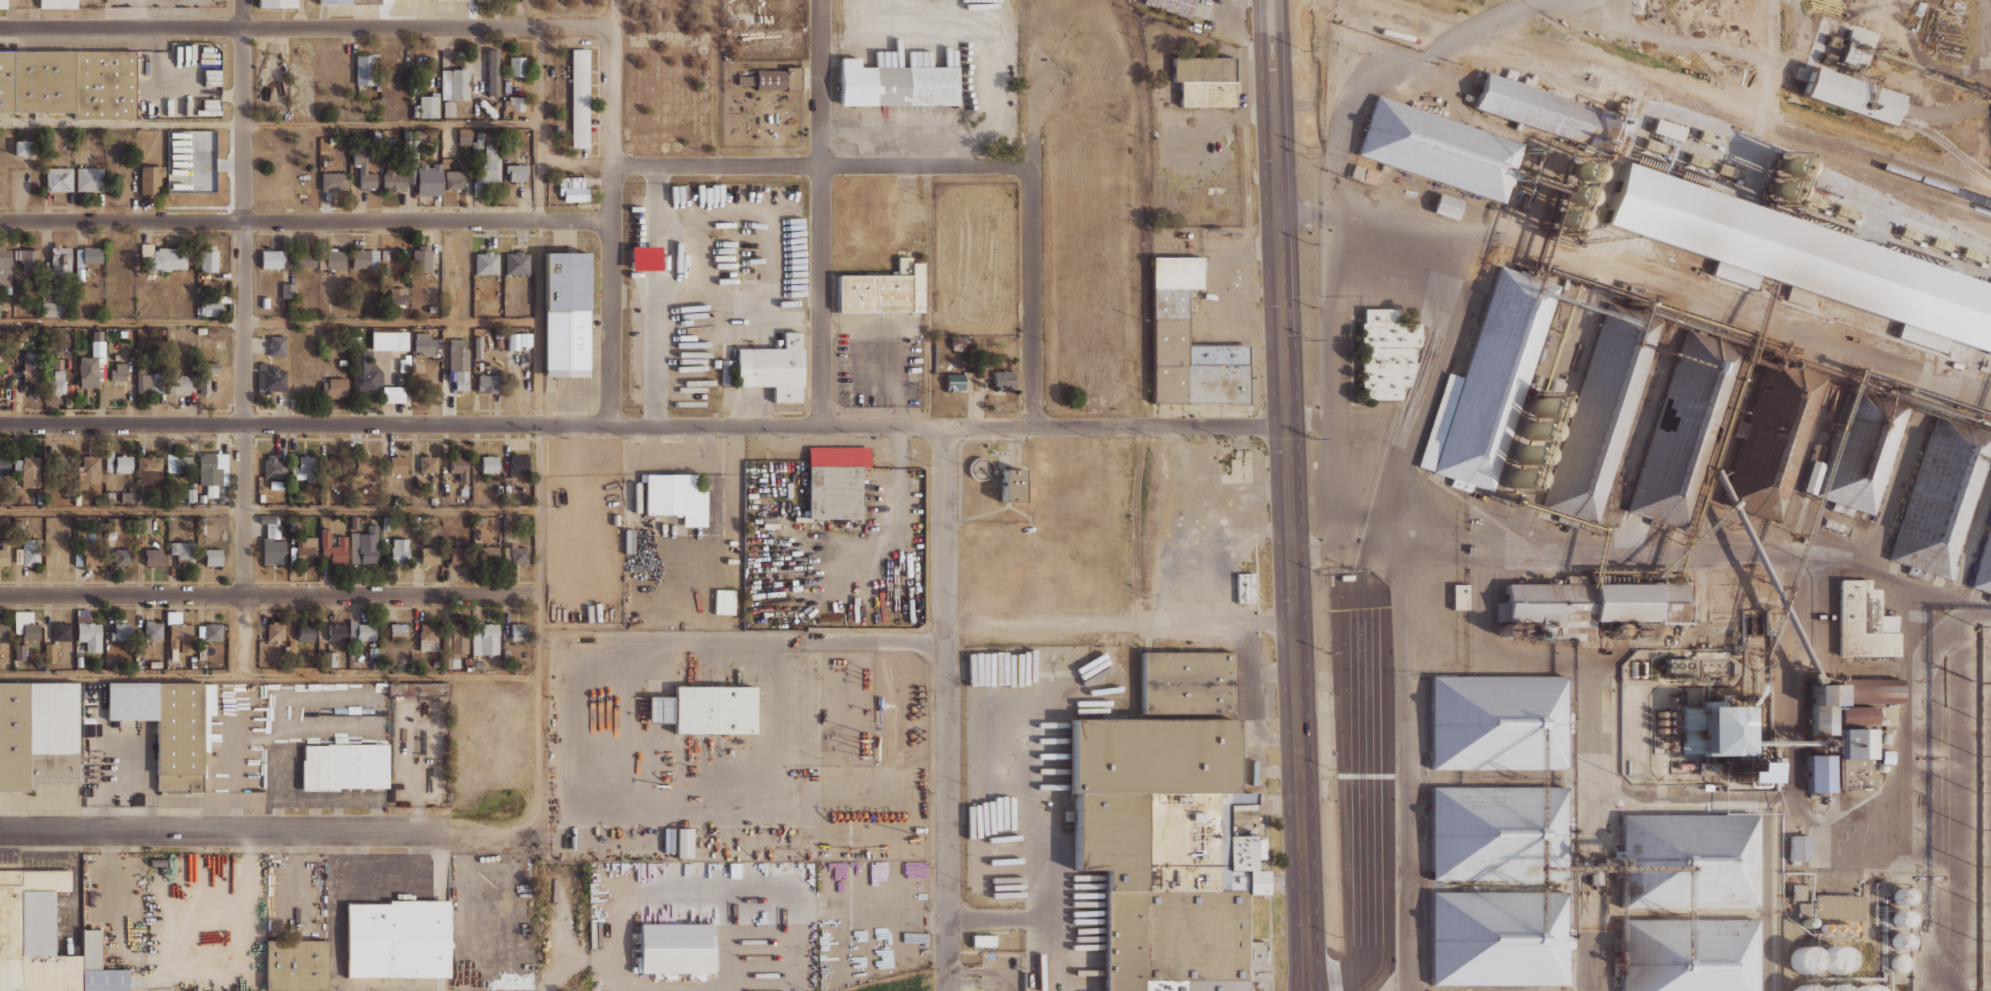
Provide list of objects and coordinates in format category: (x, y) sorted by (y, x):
building: (350, 2)
building: (277, 3)
building: (3, 4)
building: (58, 4)
building: (1173, 6)
road: (307, 25)
building: (1398, 31)
railway: (1602, 62)
building: (516, 66)
building: (366, 69)
railway: (1758, 71)
building: (774, 78)
building: (494, 79)
building: (1200, 81)
road: (1367, 81)
building: (68, 82)
building: (455, 84)
building: (898, 84)
building: (506, 86)
building: (751, 94)
building: (1849, 95)
building: (580, 97)
railway: (1685, 100)
building: (517, 103)
building: (427, 106)
building: (474, 106)
building: (1539, 108)
railway: (1754, 108)
building: (449, 109)
road: (270, 123)
building: (1664, 129)
building: (406, 134)
building: (418, 134)
building: (464, 136)
building: (375, 137)
railway: (1944, 140)
building: (478, 141)
building: (415, 143)
building: (406, 144)
building: (22, 147)
building: (1442, 150)
railway: (1882, 157)
building: (412, 158)
railway: (1849, 163)
road: (822, 164)
building: (487, 165)
building: (364, 170)
building: (516, 173)
building: (1363, 174)
building: (409, 175)
building: (150, 177)
building: (428, 178)
building: (59, 179)
building: (90, 179)
building: (393, 180)
building: (455, 180)
building: (334, 182)
railway: (1881, 184)
building: (572, 189)
railway: (1926, 199)
building: (1442, 205)
road: (613, 212)
road: (822, 212)
road: (306, 220)
railway: (1964, 220)
road: (1033, 222)
building: (147, 249)
building: (208, 258)
building: (420, 258)
building: (29, 259)
building: (61, 259)
building: (365, 259)
building: (86, 260)
building: (166, 260)
building: (307, 260)
building: (333, 260)
building: (272, 261)
building: (1796, 262)
building: (484, 263)
building: (517, 263)
building: (5, 267)
building: (287, 290)
building: (884, 290)
road: (928, 294)
road: (657, 295)
building: (398, 296)
building: (264, 301)
building: (48, 302)
building: (144, 305)
building: (432, 308)
building: (209, 309)
building: (405, 311)
building: (567, 314)
building: (1166, 317)
road: (269, 321)
building: (200, 330)
building: (497, 332)
road: (243, 338)
building: (525, 339)
building: (389, 340)
building: (512, 340)
building: (960, 342)
building: (97, 343)
building: (423, 343)
building: (498, 343)
building: (277, 347)
building: (478, 347)
building: (1383, 353)
railway: (1145, 354)
parking lot: (879, 358)
building: (343, 361)
building: (459, 362)
building: (57, 364)
building: (36, 366)
building: (118, 368)
building: (774, 368)
building: (88, 372)
building: (726, 372)
building: (366, 373)
building: (207, 375)
building: (1494, 375)
road: (1434, 376)
road: (1330, 377)
building: (272, 378)
building: (1003, 380)
building: (489, 382)
building: (955, 382)
building: (57, 384)
building: (144, 384)
building: (180, 384)
building: (337, 387)
building: (393, 394)
building: (1599, 412)
road: (1353, 419)
road: (642, 425)
building: (1680, 427)
building: (1778, 440)
building: (1857, 454)
building: (340, 458)
building: (109, 460)
building: (180, 462)
building: (149, 463)
building: (365, 463)
building: (398, 463)
building: (123, 464)
building: (427, 464)
road: (538, 464)
building: (16, 465)
building: (488, 465)
building: (516, 465)
building: (1, 467)
building: (460, 467)
building: (274, 468)
building: (305, 468)
building: (31, 471)
building: (212, 471)
building: (89, 473)
building: (835, 481)
building: (1014, 485)
building: (520, 489)
building: (169, 494)
building: (195, 494)
road: (1289, 495)
building: (127, 496)
building: (109, 497)
building: (283, 497)
building: (676, 497)
building: (48, 498)
building: (19, 499)
building: (222, 499)
building: (433, 500)
building: (1940, 500)
building: (396, 501)
building: (468, 502)
road: (269, 509)
building: (267, 519)
building: (478, 521)
building: (354, 522)
building: (416, 522)
building: (386, 524)
building: (144, 525)
building: (202, 527)
building: (369, 546)
building: (334, 548)
building: (354, 548)
building: (1471, 548)
building: (273, 549)
building: (399, 549)
building: (306, 550)
building: (4, 551)
building: (183, 551)
building: (31, 553)
building: (489, 553)
building: (86, 554)
building: (518, 554)
building: (431, 556)
building: (458, 556)
building: (121, 557)
building: (212, 557)
building: (152, 558)
building: (1984, 566)
building: (1344, 576)
road: (269, 593)
building: (1457, 596)
building: (1586, 605)
building: (1863, 621)
road: (1120, 623)
building: (3, 631)
building: (31, 631)
building: (62, 631)
building: (154, 631)
building: (180, 631)
building: (275, 631)
building: (213, 632)
building: (305, 632)
building: (336, 632)
building: (367, 632)
building: (398, 632)
building: (428, 632)
building: (519, 632)
building: (121, 633)
building: (90, 635)
building: (486, 640)
road: (812, 640)
building: (458, 641)
building: (20, 651)
building: (202, 651)
building: (374, 651)
building: (445, 651)
building: (49, 652)
building: (192, 658)
building: (329, 659)
building: (79, 661)
building: (478, 663)
building: (155, 664)
building: (193, 664)
building: (375, 665)
building: (1676, 665)
building: (522, 666)
road: (269, 676)
building: (1189, 681)
building: (418, 689)
building: (1870, 690)
building: (1826, 694)
road: (947, 707)
building: (706, 709)
building: (1858, 715)
building: (1496, 719)
building: (1822, 719)
building: (1666, 722)
building: (170, 725)
building: (1710, 730)
building: (38, 734)
building: (1886, 738)
building: (1851, 743)
building: (1883, 756)
building: (1775, 765)
building: (344, 766)
building: (1703, 767)
building: (1727, 771)
building: (1746, 773)
building: (1816, 773)
building: (1854, 774)
road: (982, 809)
road: (223, 831)
road: (1038, 831)
building: (1499, 833)
building: (684, 842)
building: (1798, 847)
building: (1171, 852)
building: (1687, 861)
building: (158, 863)
road: (622, 890)
building: (1798, 891)
road: (874, 898)
building: (1837, 906)
road: (335, 911)
building: (33, 932)
road: (551, 937)
building: (398, 939)
building: (983, 940)
building: (1498, 941)
road: (1051, 943)
building: (677, 948)
building: (1686, 956)
road: (581, 957)
building: (1804, 959)
building: (1834, 959)
building: (298, 964)
building: (100, 966)
road: (977, 969)
road: (975, 979)
road: (1007, 985)
building: (1865, 987)
road: (798, 988)
building: (1803, 988)
road: (661, 989)
building: (1839, 989)
road: (964, 990)

